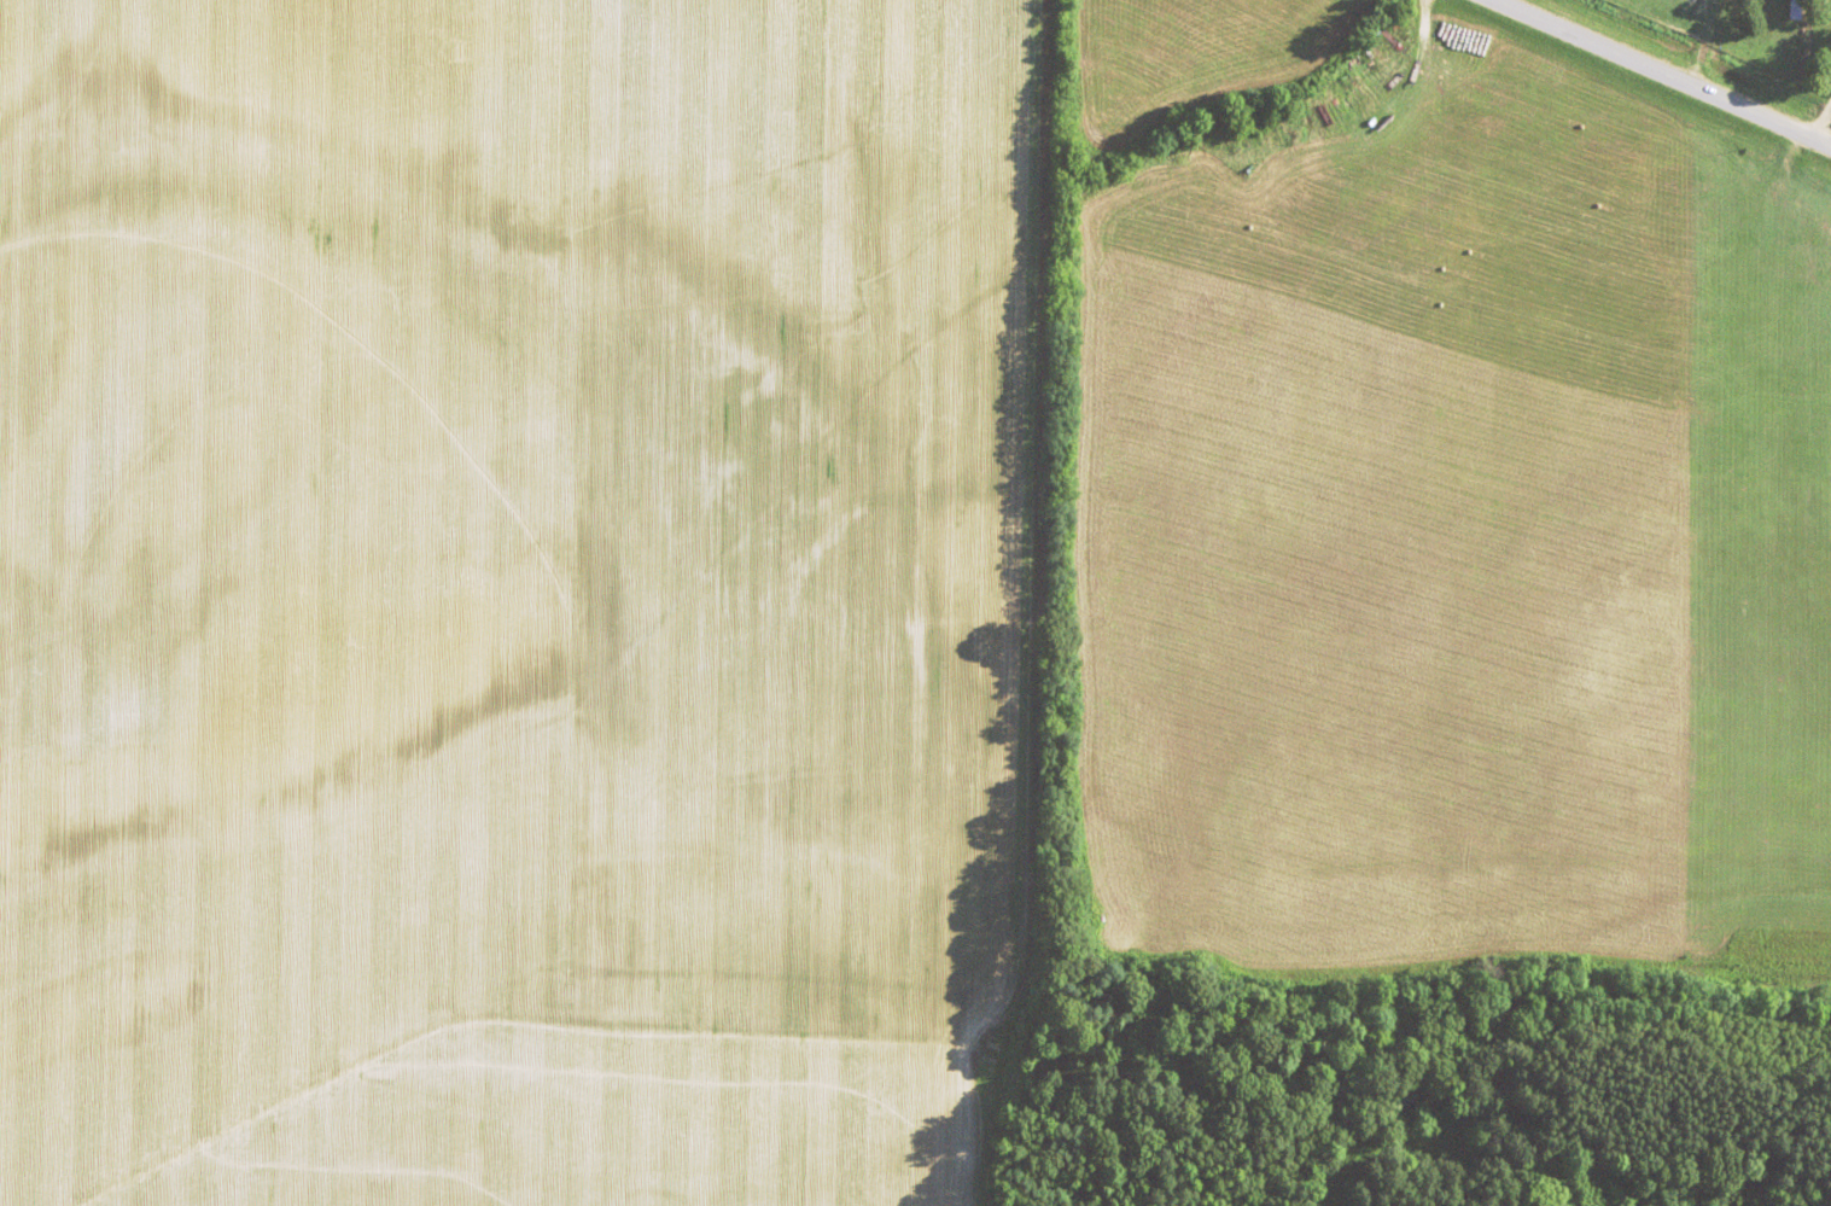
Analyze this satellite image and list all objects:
building: (1791, 7)
road: (1663, 71)

